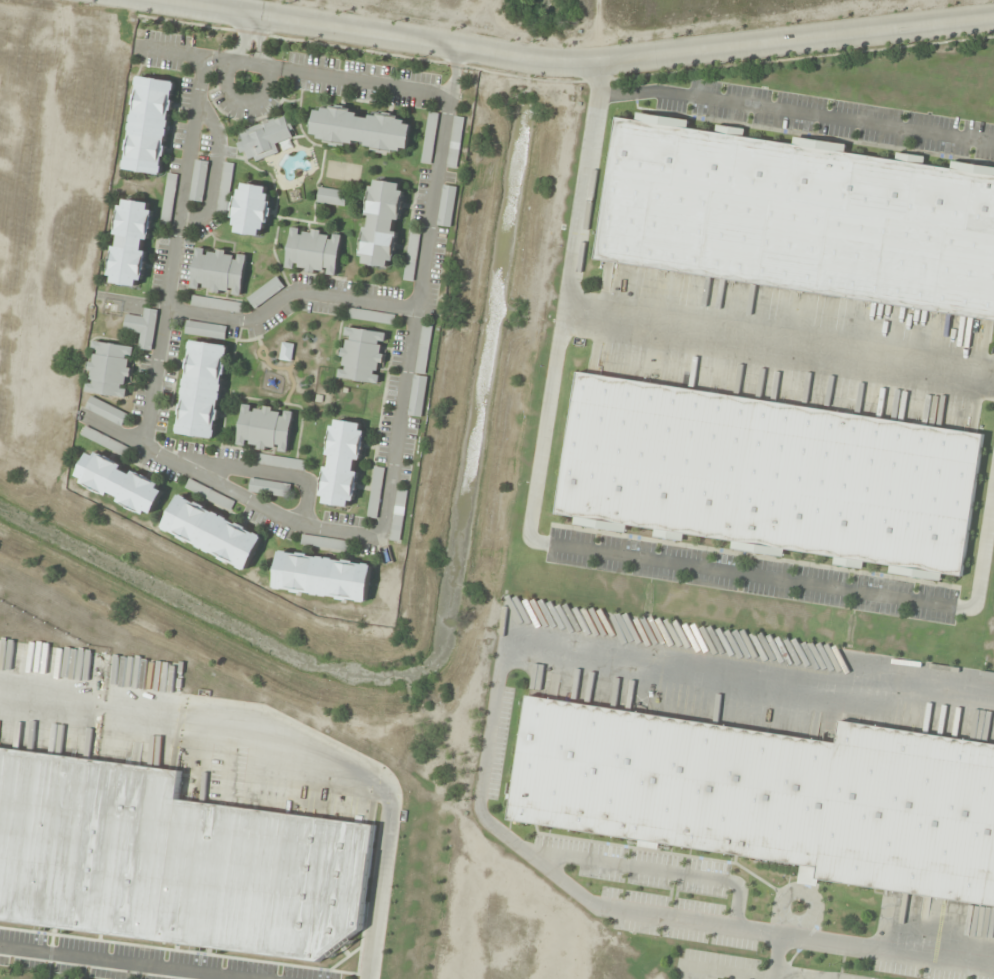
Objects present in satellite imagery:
road: (243, 37)
road: (259, 40)
road: (578, 61)
road: (296, 70)
building: (150, 125)
building: (362, 129)
building: (429, 138)
building: (266, 139)
building: (455, 142)
road: (213, 170)
building: (199, 181)
building: (224, 195)
building: (332, 197)
building: (169, 199)
building: (446, 206)
building: (252, 210)
building: (798, 216)
building: (382, 224)
building: (131, 243)
road: (172, 250)
building: (314, 251)
building: (411, 256)
building: (219, 271)
building: (265, 292)
road: (285, 295)
building: (216, 304)
building: (368, 316)
building: (143, 327)
building: (426, 329)
building: (206, 330)
building: (362, 355)
building: (109, 369)
building: (202, 390)
building: (417, 396)
building: (106, 411)
building: (265, 428)
building: (93, 435)
road: (393, 449)
building: (342, 463)
building: (772, 477)
building: (377, 478)
building: (120, 483)
building: (269, 488)
building: (212, 532)
building: (324, 543)
road: (576, 548)
building: (323, 576)
road: (485, 753)
building: (769, 796)
building: (172, 861)
road: (777, 958)

